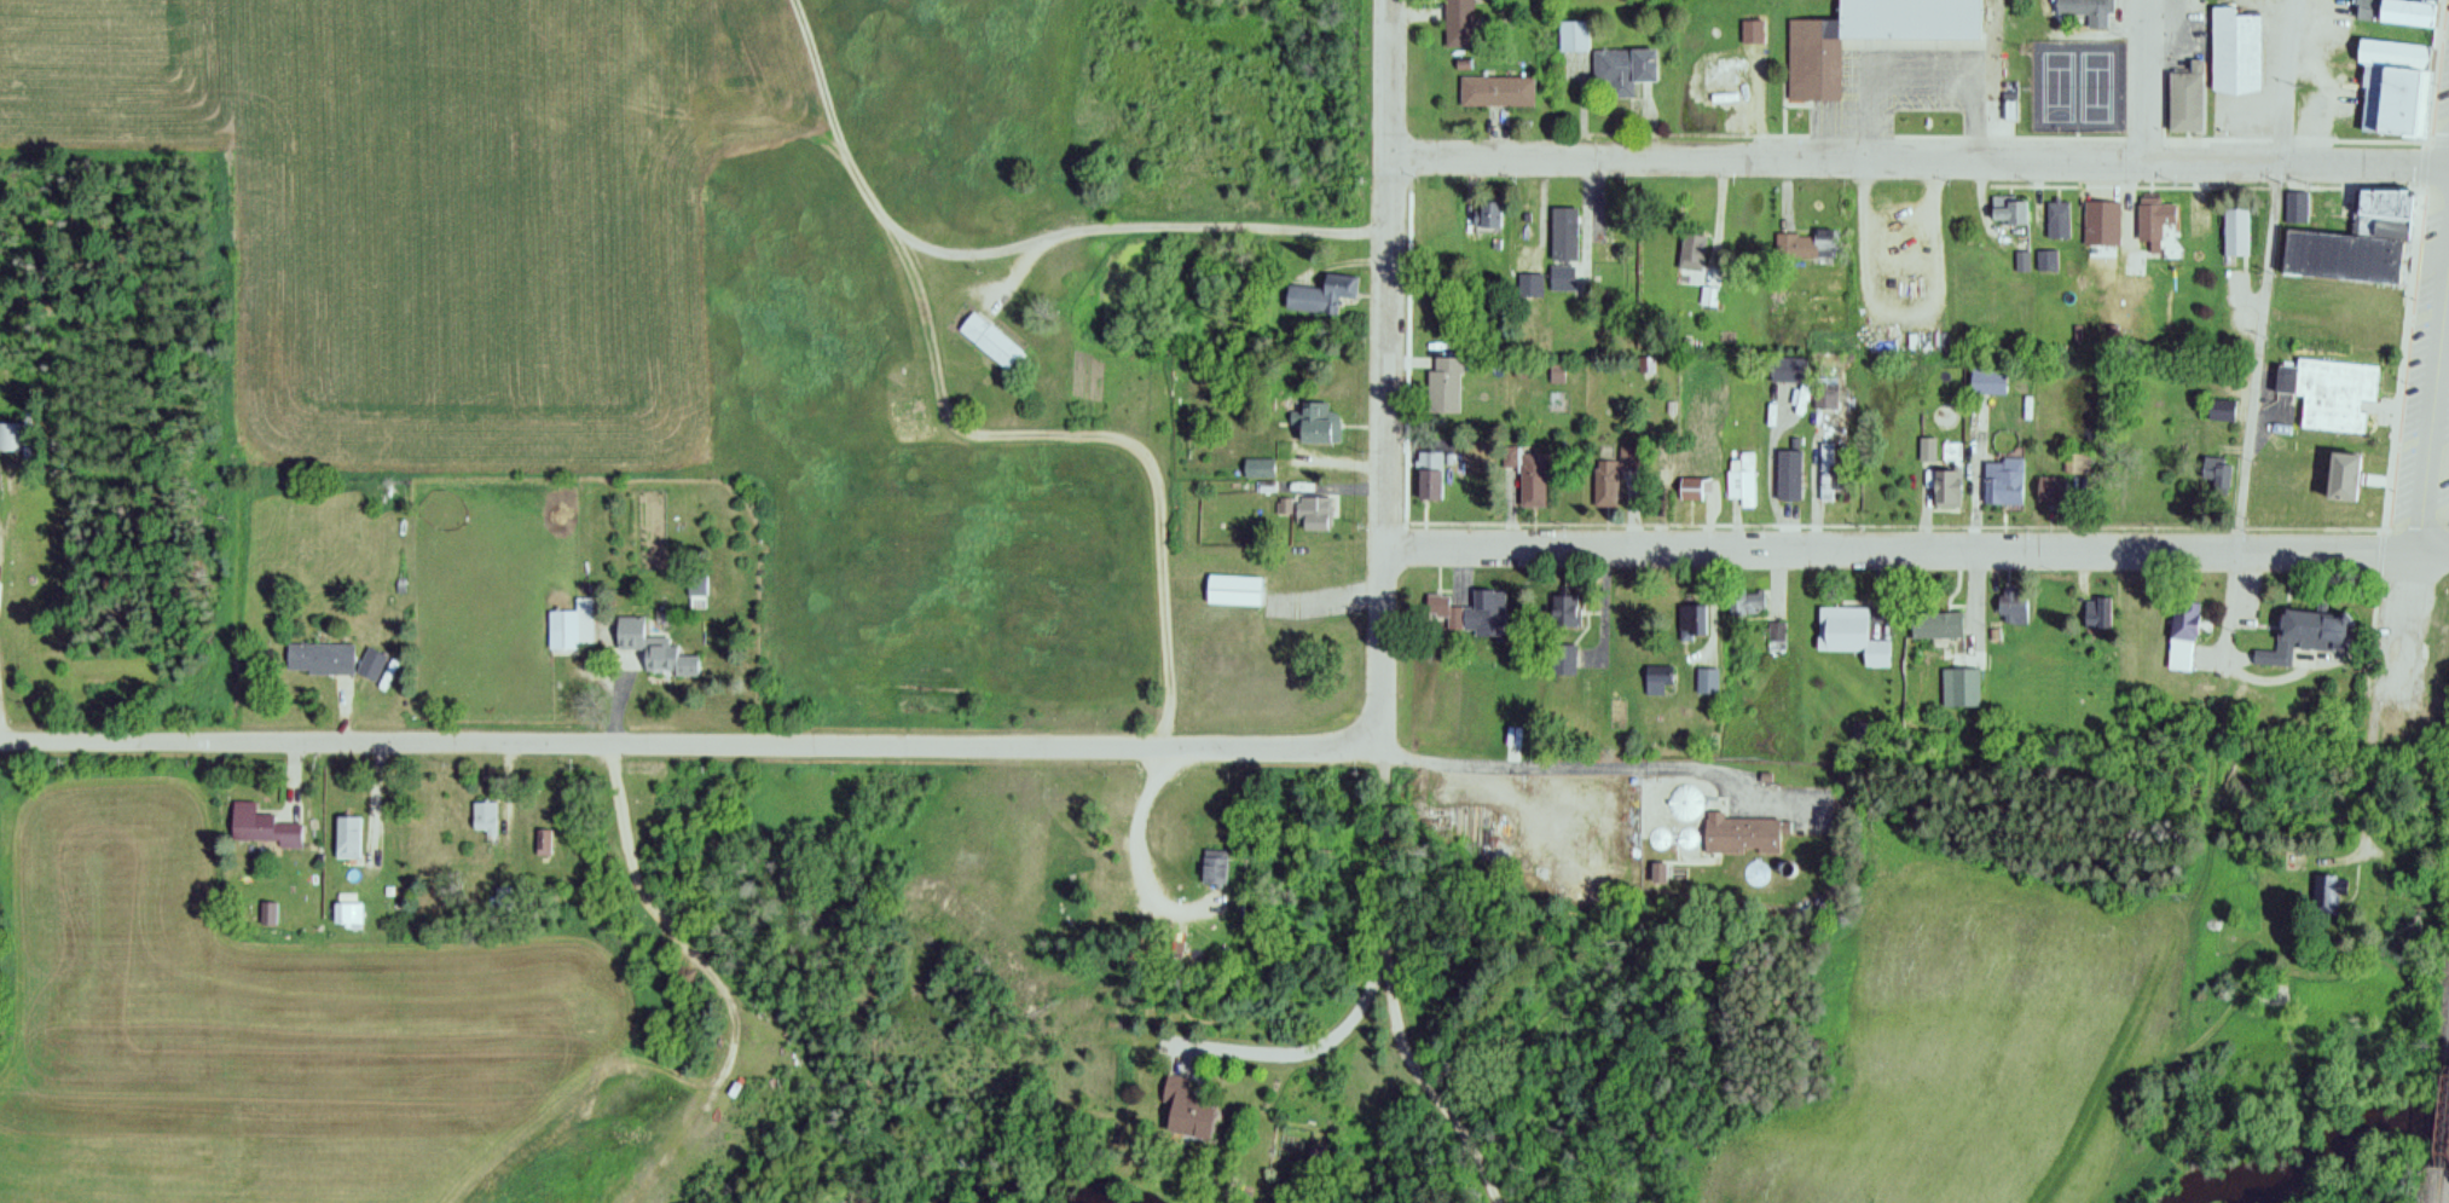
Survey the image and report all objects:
building: (2085, 11)
building: (2396, 12)
building: (1459, 23)
building: (1869, 36)
building: (1573, 37)
building: (2234, 52)
building: (1621, 69)
building: (1720, 76)
road: (2288, 79)
road: (2147, 80)
building: (2392, 88)
building: (1496, 92)
building: (2185, 97)
road: (1922, 160)
building: (2292, 204)
building: (2008, 212)
building: (2097, 212)
building: (1488, 215)
building: (2383, 218)
building: (2057, 219)
building: (1921, 226)
building: (2158, 226)
building: (841, 231)
building: (1525, 231)
building: (2233, 231)
building: (1563, 235)
building: (1609, 237)
building: (1802, 248)
building: (1691, 253)
building: (2344, 258)
building: (2134, 265)
building: (1562, 279)
building: (1529, 287)
building: (1924, 289)
building: (1320, 295)
building: (988, 341)
road: (2258, 353)
road: (928, 364)
building: (1785, 371)
road: (1401, 372)
building: (1986, 382)
building: (2328, 386)
road: (1372, 387)
building: (1443, 387)
building: (2222, 412)
building: (1316, 426)
building: (10, 438)
building: (2346, 464)
building: (1257, 469)
building: (1828, 474)
building: (1788, 476)
building: (2216, 476)
building: (1428, 478)
building: (1527, 478)
building: (1611, 478)
building: (1743, 480)
building: (2003, 482)
building: (2063, 486)
building: (1692, 490)
building: (1945, 490)
building: (1312, 515)
road: (1916, 548)
road: (2418, 548)
building: (695, 586)
building: (1234, 590)
building: (1563, 602)
building: (1739, 602)
building: (2009, 602)
building: (1471, 606)
building: (2094, 606)
building: (1691, 612)
building: (1933, 620)
building: (571, 627)
building: (2308, 629)
building: (1848, 631)
building: (2181, 631)
building: (1772, 634)
building: (652, 648)
building: (1561, 653)
building: (318, 659)
building: (1657, 673)
building: (1704, 673)
building: (1956, 683)
building: (1511, 731)
road: (123, 740)
road: (1031, 748)
building: (484, 819)
building: (259, 827)
building: (1738, 829)
building: (347, 839)
building: (543, 844)
building: (2326, 896)
road: (1383, 900)
railway: (2448, 1068)
building: (1186, 1103)
railway: (2443, 1120)
river: (2321, 1145)
railway: (2437, 1185)
river: (1041, 1192)

